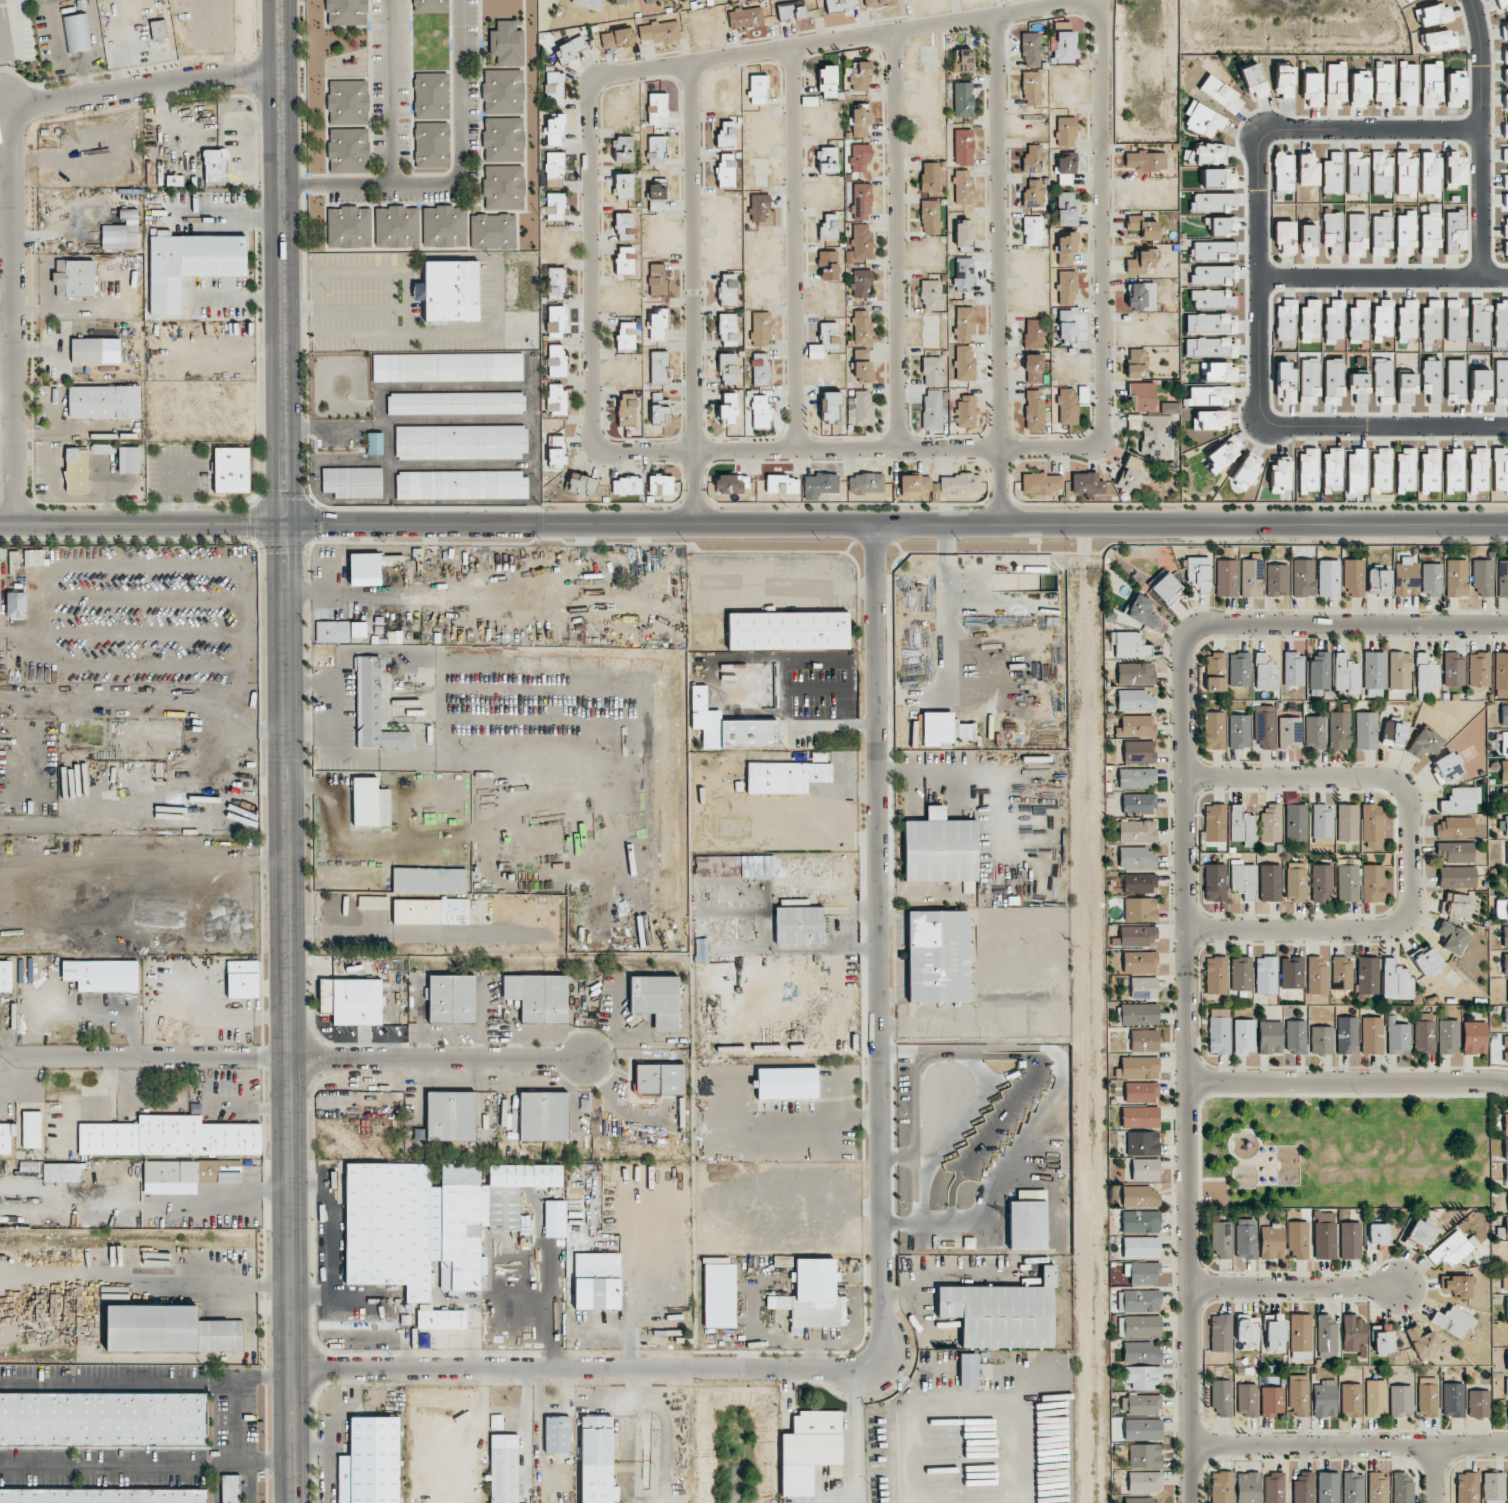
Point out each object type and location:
building: (698, 0)
building: (1409, 0)
building: (622, 1)
building: (879, 3)
building: (589, 4)
building: (841, 4)
building: (1503, 4)
building: (430, 6)
building: (790, 11)
building: (346, 12)
building: (1433, 14)
building: (745, 17)
building: (158, 29)
building: (658, 31)
building: (1504, 31)
building: (76, 32)
road: (273, 38)
building: (617, 38)
building: (1438, 40)
building: (507, 43)
building: (1065, 47)
building: (569, 49)
building: (1031, 49)
building: (627, 51)
building: (1505, 56)
building: (962, 60)
road: (663, 66)
building: (859, 76)
building: (1505, 77)
building: (827, 81)
building: (1253, 81)
building: (1283, 81)
building: (1334, 83)
building: (1383, 83)
building: (1406, 83)
building: (1431, 83)
building: (555, 88)
building: (1031, 88)
building: (1358, 88)
building: (757, 89)
building: (1454, 89)
building: (1311, 90)
building: (507, 91)
road: (389, 93)
building: (1219, 93)
building: (431, 95)
building: (963, 99)
building: (1506, 100)
building: (347, 102)
building: (656, 107)
building: (1203, 119)
building: (859, 120)
building: (554, 130)
building: (1505, 130)
building: (1065, 131)
building: (726, 134)
road: (1484, 138)
building: (507, 139)
building: (431, 144)
building: (963, 147)
building: (623, 148)
building: (656, 149)
building: (347, 150)
building: (1205, 153)
building: (1505, 154)
building: (859, 156)
building: (827, 159)
building: (1032, 159)
building: (1146, 160)
building: (1067, 164)
building: (215, 167)
building: (554, 169)
building: (1454, 169)
building: (726, 170)
building: (1307, 170)
building: (1283, 171)
building: (1333, 173)
building: (1405, 173)
building: (1381, 174)
building: (1430, 174)
building: (1356, 175)
building: (931, 177)
road: (454, 178)
building: (1218, 178)
building: (174, 180)
building: (1505, 181)
building: (624, 186)
building: (507, 187)
building: (962, 187)
road: (12, 190)
building: (1033, 194)
building: (657, 195)
building: (1505, 200)
building: (1211, 201)
building: (861, 202)
building: (555, 206)
building: (759, 207)
building: (1066, 208)
building: (930, 217)
road: (222, 219)
building: (444, 225)
building: (1144, 225)
building: (1220, 225)
building: (349, 226)
building: (396, 226)
building: (624, 226)
building: (829, 227)
building: (1505, 227)
building: (1032, 231)
building: (1454, 231)
building: (1333, 232)
building: (963, 233)
building: (1405, 233)
building: (1381, 234)
building: (1429, 234)
building: (1357, 235)
building: (119, 236)
building: (1285, 236)
road: (894, 239)
building: (1308, 240)
building: (860, 242)
road: (793, 247)
building: (1066, 248)
building: (1212, 250)
building: (1506, 252)
building: (625, 260)
building: (1140, 261)
building: (190, 264)
building: (827, 265)
road: (997, 270)
building: (963, 274)
building: (1211, 275)
building: (73, 278)
road: (1384, 278)
building: (657, 279)
building: (860, 282)
building: (555, 283)
building: (1066, 287)
building: (728, 289)
building: (449, 290)
road: (1261, 290)
road: (690, 293)
building: (931, 295)
building: (1142, 297)
building: (1213, 298)
road: (234, 299)
building: (1407, 318)
building: (1286, 319)
building: (1334, 319)
building: (1358, 319)
building: (555, 320)
building: (1310, 320)
building: (1382, 320)
building: (1432, 320)
building: (1455, 321)
building: (1480, 322)
building: (1210, 323)
building: (1501, 323)
building: (963, 324)
building: (1066, 324)
building: (862, 327)
building: (728, 329)
building: (760, 329)
building: (1034, 333)
building: (829, 336)
building: (1209, 347)
building: (86, 350)
building: (556, 359)
building: (964, 362)
building: (1136, 362)
building: (507, 366)
building: (659, 367)
building: (1033, 368)
building: (728, 369)
building: (759, 369)
building: (862, 371)
building: (932, 371)
building: (1220, 372)
building: (1501, 378)
building: (1309, 379)
building: (1333, 380)
building: (1383, 380)
building: (1431, 380)
building: (1456, 380)
building: (1285, 383)
building: (1359, 386)
building: (1406, 386)
building: (1479, 386)
road: (426, 387)
building: (1208, 395)
building: (1142, 396)
building: (556, 398)
building: (104, 401)
building: (508, 402)
building: (1067, 406)
building: (829, 407)
building: (863, 407)
building: (1169, 407)
building: (627, 408)
building: (728, 408)
building: (659, 409)
building: (932, 409)
building: (1034, 409)
building: (759, 412)
building: (1210, 419)
building: (1157, 436)
building: (509, 441)
building: (374, 444)
road: (1061, 446)
building: (557, 451)
building: (1223, 453)
building: (129, 459)
building: (76, 469)
building: (231, 469)
building: (1500, 469)
building: (1246, 470)
building: (1332, 470)
building: (1356, 470)
building: (1405, 470)
building: (1453, 470)
building: (1477, 470)
building: (1308, 471)
building: (1429, 471)
building: (1380, 472)
building: (1130, 473)
building: (1280, 474)
building: (352, 482)
building: (865, 483)
building: (914, 483)
building: (959, 483)
building: (1041, 483)
building: (1087, 483)
building: (509, 484)
building: (781, 484)
building: (820, 484)
building: (578, 485)
building: (626, 485)
building: (660, 485)
road: (534, 496)
road: (9, 524)
road: (762, 525)
building: (365, 568)
building: (1199, 572)
building: (1354, 577)
building: (1406, 577)
building: (1226, 578)
building: (1251, 578)
building: (1303, 578)
building: (1328, 578)
building: (1456, 578)
building: (1482, 578)
building: (1502, 578)
building: (1277, 580)
building: (1431, 580)
building: (1379, 582)
building: (1166, 588)
building: (1141, 611)
road: (1343, 625)
building: (357, 629)
building: (326, 631)
building: (788, 631)
building: (1129, 645)
building: (1453, 668)
building: (1239, 669)
building: (1294, 669)
building: (1478, 669)
building: (1320, 670)
building: (1373, 670)
building: (1399, 670)
building: (1501, 670)
building: (1214, 671)
building: (1265, 672)
building: (1135, 673)
building: (1346, 674)
building: (1426, 675)
building: (698, 697)
building: (1136, 700)
building: (373, 709)
building: (1504, 715)
building: (1136, 725)
road: (306, 726)
building: (1264, 727)
building: (1214, 730)
building: (1339, 730)
building: (1366, 730)
building: (963, 731)
building: (1239, 731)
building: (1314, 732)
building: (748, 733)
building: (1290, 733)
building: (1393, 734)
road: (332, 737)
building: (1424, 743)
building: (1504, 743)
building: (1139, 752)
building: (1449, 766)
building: (1504, 771)
building: (785, 776)
building: (1136, 778)
road: (336, 788)
road: (282, 789)
building: (1507, 797)
building: (1461, 800)
building: (370, 802)
building: (1138, 803)
building: (1322, 821)
building: (1215, 822)
building: (1296, 822)
building: (1347, 822)
building: (1271, 823)
building: (1372, 823)
building: (1242, 826)
building: (1505, 826)
building: (1454, 827)
building: (1136, 831)
building: (939, 848)
building: (1455, 851)
building: (1507, 853)
road: (1403, 854)
building: (1137, 858)
building: (757, 865)
building: (1456, 877)
building: (1243, 878)
building: (429, 880)
building: (1215, 882)
building: (1270, 882)
building: (1296, 882)
building: (1139, 883)
building: (1322, 883)
building: (1348, 883)
building: (1373, 883)
building: (967, 887)
building: (372, 902)
building: (1455, 904)
building: (1140, 909)
building: (1501, 909)
building: (429, 911)
building: (799, 925)
building: (1138, 935)
building: (1505, 936)
building: (1453, 938)
building: (937, 956)
building: (1140, 962)
building: (1427, 962)
building: (1505, 964)
building: (1292, 972)
building: (1241, 973)
building: (1342, 973)
building: (102, 975)
building: (1216, 975)
building: (1266, 975)
building: (1367, 975)
building: (5, 976)
building: (1317, 976)
building: (242, 979)
building: (1396, 980)
building: (1144, 987)
building: (1507, 992)
building: (538, 997)
building: (450, 999)
building: (414, 1000)
building: (656, 1000)
building: (351, 1001)
building: (1137, 1014)
building: (1505, 1015)
building: (1346, 1035)
building: (1372, 1035)
building: (1424, 1035)
building: (1244, 1036)
building: (1398, 1036)
building: (1448, 1036)
building: (1270, 1037)
building: (1296, 1037)
building: (1474, 1037)
building: (1144, 1040)
building: (1322, 1040)
building: (1506, 1049)
road: (150, 1058)
road: (435, 1059)
building: (1137, 1068)
road: (1183, 1072)
building: (659, 1079)
road: (1345, 1080)
building: (786, 1083)
building: (1141, 1092)
building: (450, 1116)
building: (543, 1116)
building: (1140, 1117)
building: (1505, 1124)
building: (31, 1129)
building: (6, 1137)
building: (169, 1137)
building: (1142, 1143)
building: (1506, 1149)
park: (1343, 1150)
building: (1145, 1169)
building: (161, 1171)
building: (217, 1171)
building: (1506, 1171)
building: (517, 1190)
building: (1140, 1196)
building: (554, 1218)
building: (1027, 1220)
building: (1140, 1222)
building: (525, 1223)
building: (460, 1224)
road: (330, 1225)
building: (1503, 1230)
building: (393, 1234)
building: (1324, 1235)
building: (1376, 1235)
building: (1420, 1235)
road: (882, 1238)
building: (1245, 1238)
building: (1221, 1239)
building: (1297, 1240)
building: (1350, 1240)
building: (1271, 1241)
building: (1141, 1248)
building: (1453, 1249)
road: (945, 1265)
building: (1142, 1272)
building: (598, 1282)
road: (1296, 1285)
building: (1457, 1285)
road: (174, 1294)
road: (244, 1295)
building: (719, 1295)
building: (812, 1296)
road: (337, 1297)
building: (1138, 1301)
building: (1506, 1306)
road: (550, 1308)
building: (1001, 1313)
building: (1453, 1321)
building: (1139, 1326)
building: (168, 1329)
building: (1246, 1329)
building: (1274, 1330)
building: (1220, 1333)
building: (1352, 1333)
building: (1300, 1336)
building: (1326, 1337)
building: (1422, 1341)
building: (1383, 1342)
building: (1141, 1352)
building: (1507, 1360)
building: (967, 1371)
building: (1142, 1377)
road: (145, 1384)
building: (1506, 1386)
building: (1298, 1395)
building: (1427, 1396)
building: (1221, 1397)
building: (1375, 1397)
building: (1325, 1399)
building: (1453, 1399)
building: (1247, 1400)
building: (1351, 1400)
building: (1272, 1401)
building: (1401, 1401)
building: (1479, 1403)
building: (1143, 1404)
road: (1010, 1406)
building: (1506, 1412)
building: (103, 1419)
road: (912, 1423)
road: (669, 1429)
building: (1142, 1429)
building: (557, 1434)
road: (855, 1437)
road: (240, 1440)
road: (1347, 1444)
building: (807, 1449)
building: (1145, 1455)
building: (596, 1460)
building: (370, 1462)
building: (504, 1468)
road: (145, 1469)
road: (1433, 1473)
building: (1144, 1481)
building: (1493, 1485)
building: (1221, 1487)
building: (1248, 1487)
building: (1328, 1487)
building: (1353, 1487)
building: (1378, 1487)
building: (1467, 1487)
building: (1274, 1488)
building: (1303, 1488)
building: (1402, 1488)
building: (230, 1489)
building: (102, 1496)
building: (1143, 1500)

